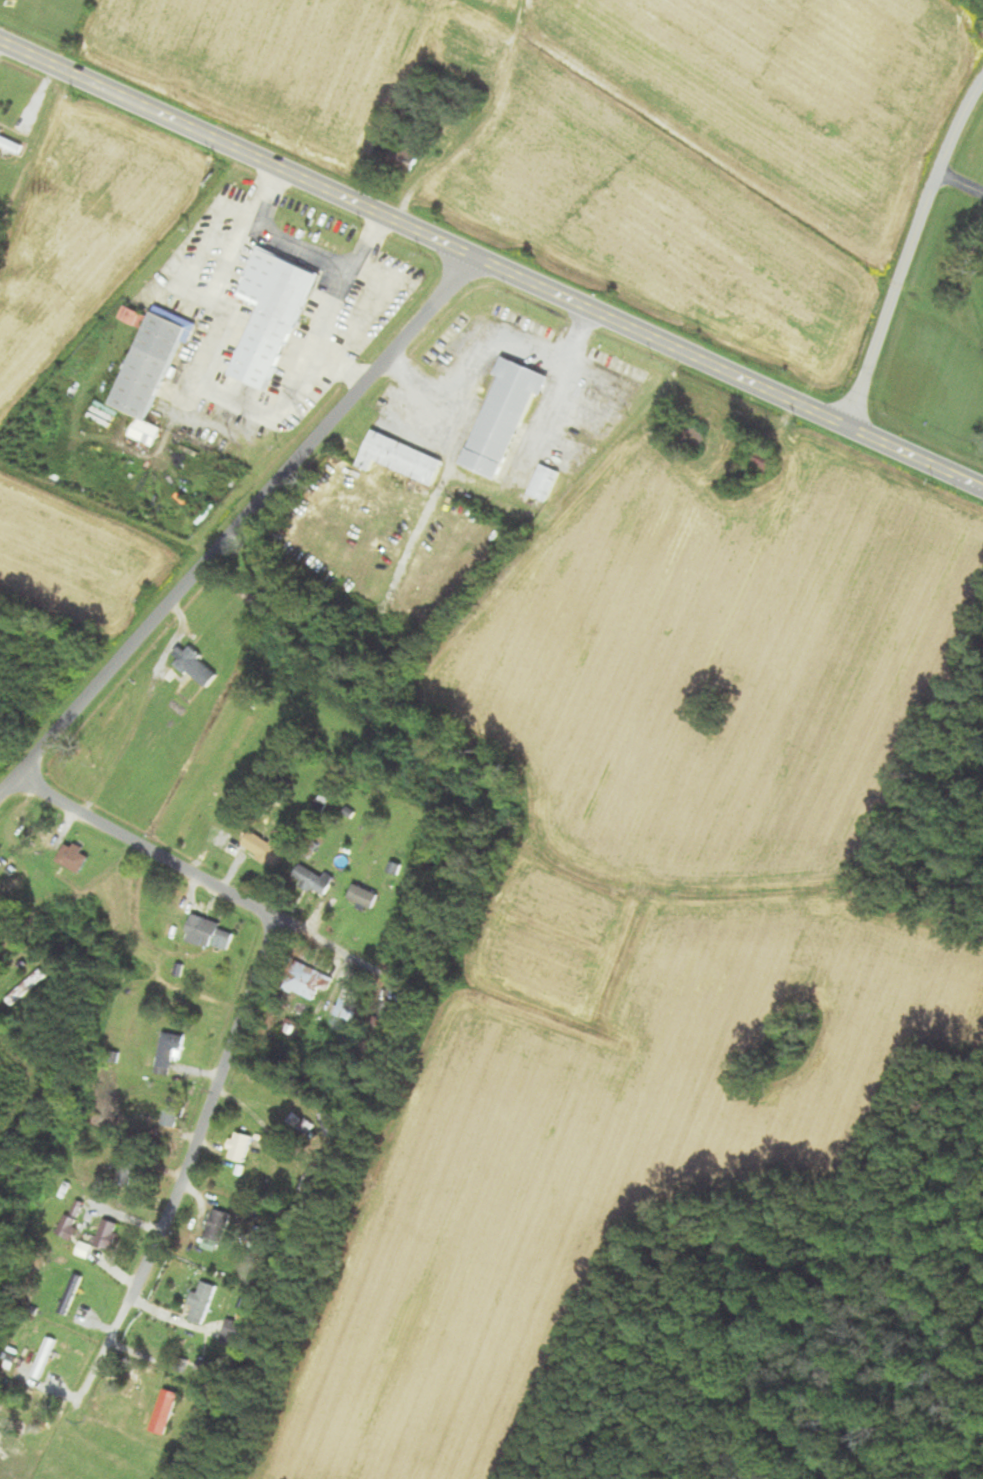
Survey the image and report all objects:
building: (12, 142)
building: (401, 158)
road: (959, 191)
road: (271, 239)
road: (910, 251)
road: (491, 263)
road: (333, 307)
building: (270, 315)
building: (130, 316)
road: (486, 340)
road: (202, 368)
building: (149, 371)
building: (598, 410)
building: (503, 416)
building: (400, 457)
building: (544, 483)
road: (238, 525)
building: (195, 666)
building: (262, 848)
building: (347, 850)
building: (72, 857)
building: (311, 880)
building: (205, 932)
road: (330, 947)
building: (306, 981)
building: (29, 989)
building: (349, 1005)
building: (387, 1017)
road: (239, 1024)
building: (168, 1053)
building: (171, 1118)
building: (239, 1147)
building: (215, 1230)
building: (108, 1234)
building: (71, 1294)
building: (201, 1303)
building: (45, 1357)
building: (164, 1412)

